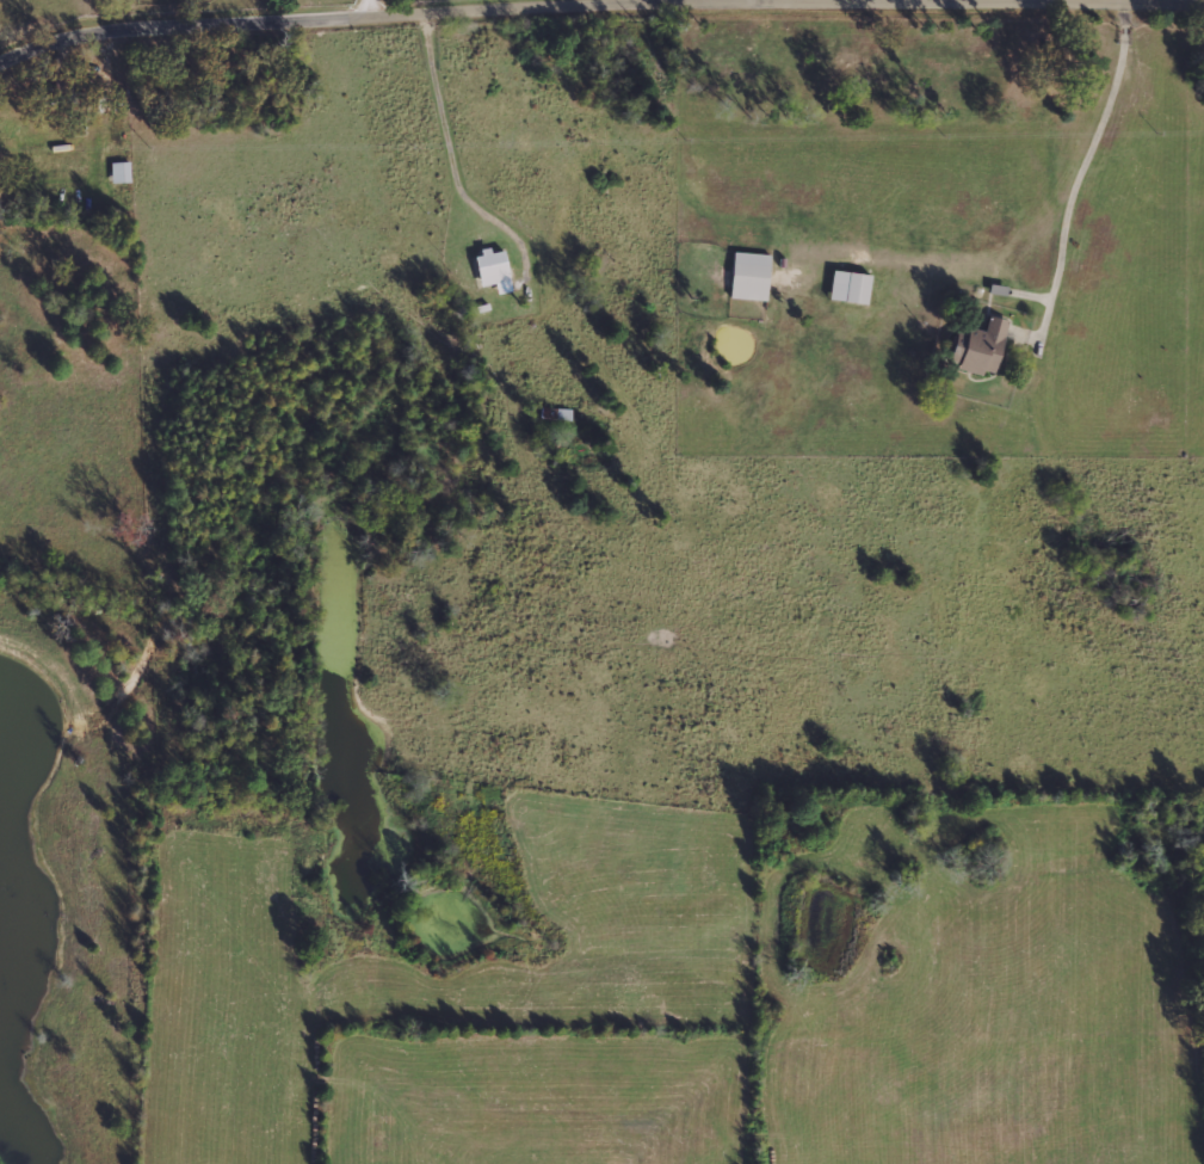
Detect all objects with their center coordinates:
road: (383, 8)
road: (307, 23)
building: (122, 173)
road: (1068, 234)
building: (495, 271)
building: (751, 276)
building: (851, 287)
building: (982, 347)

